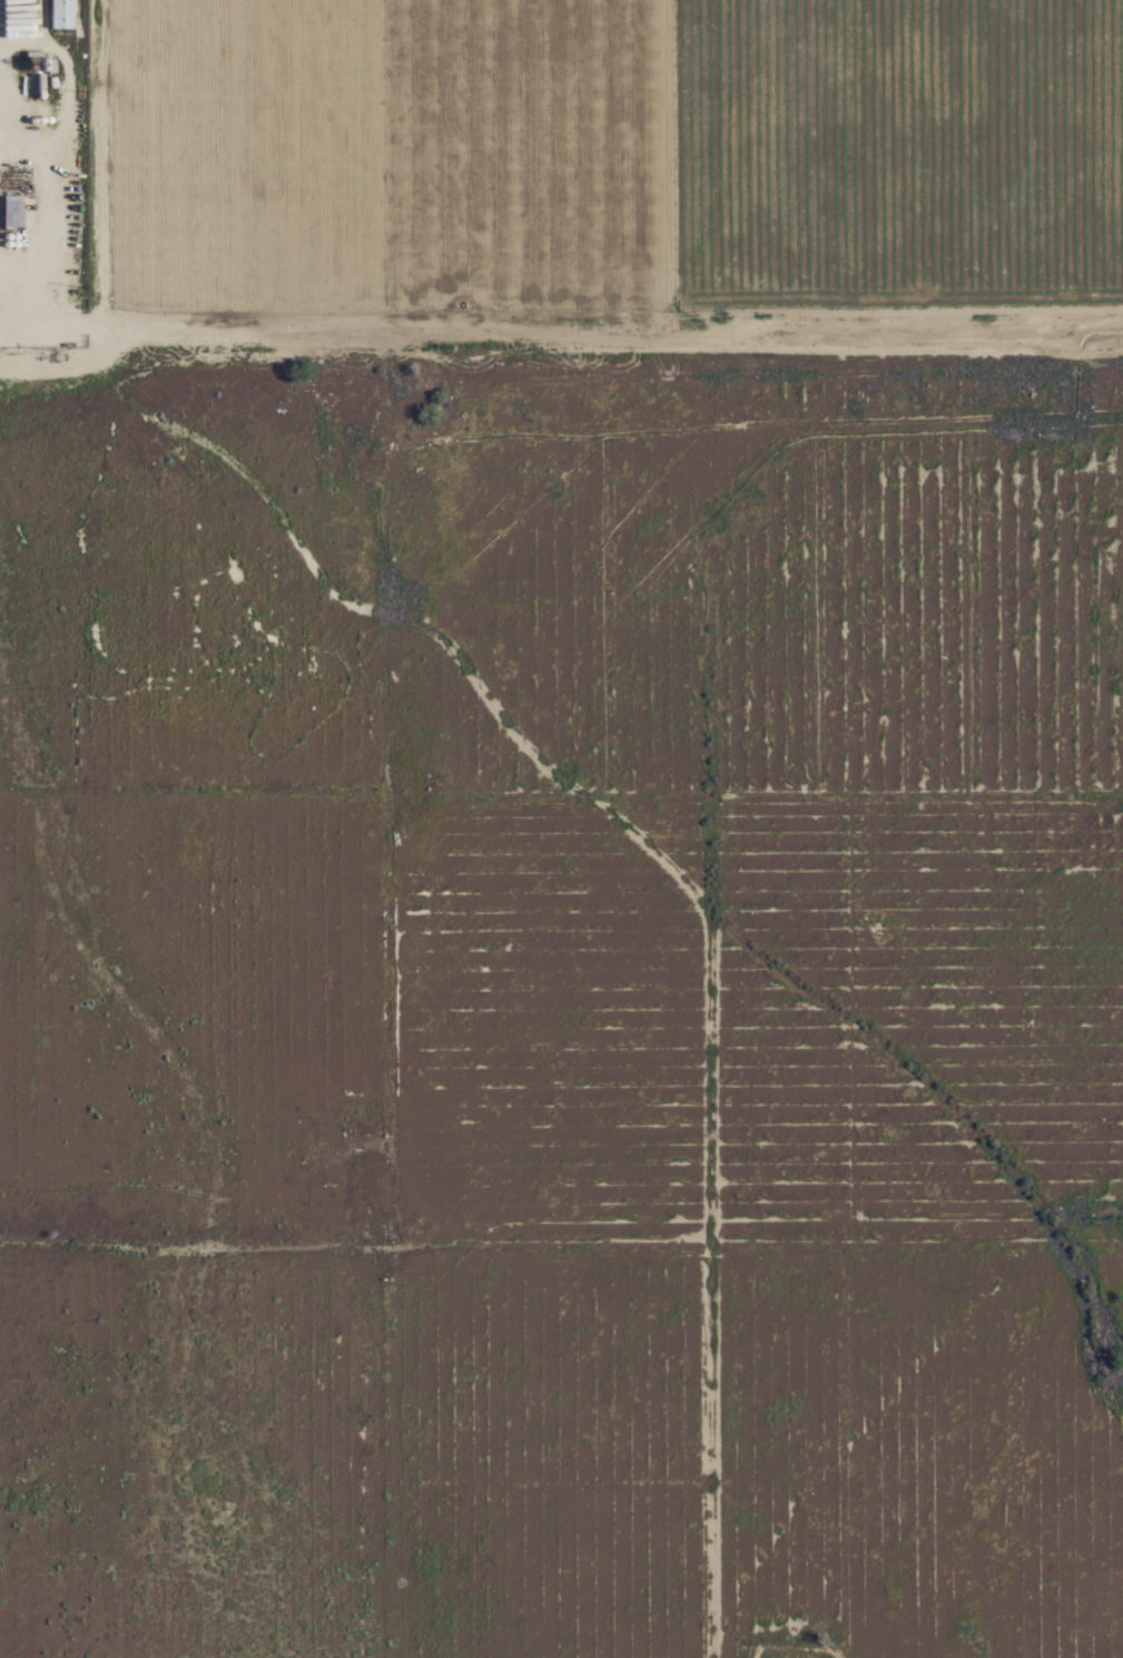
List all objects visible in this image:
building: (60, 13)
crop: (621, 151)
building: (10, 213)
road: (561, 328)
road: (561, 1259)

